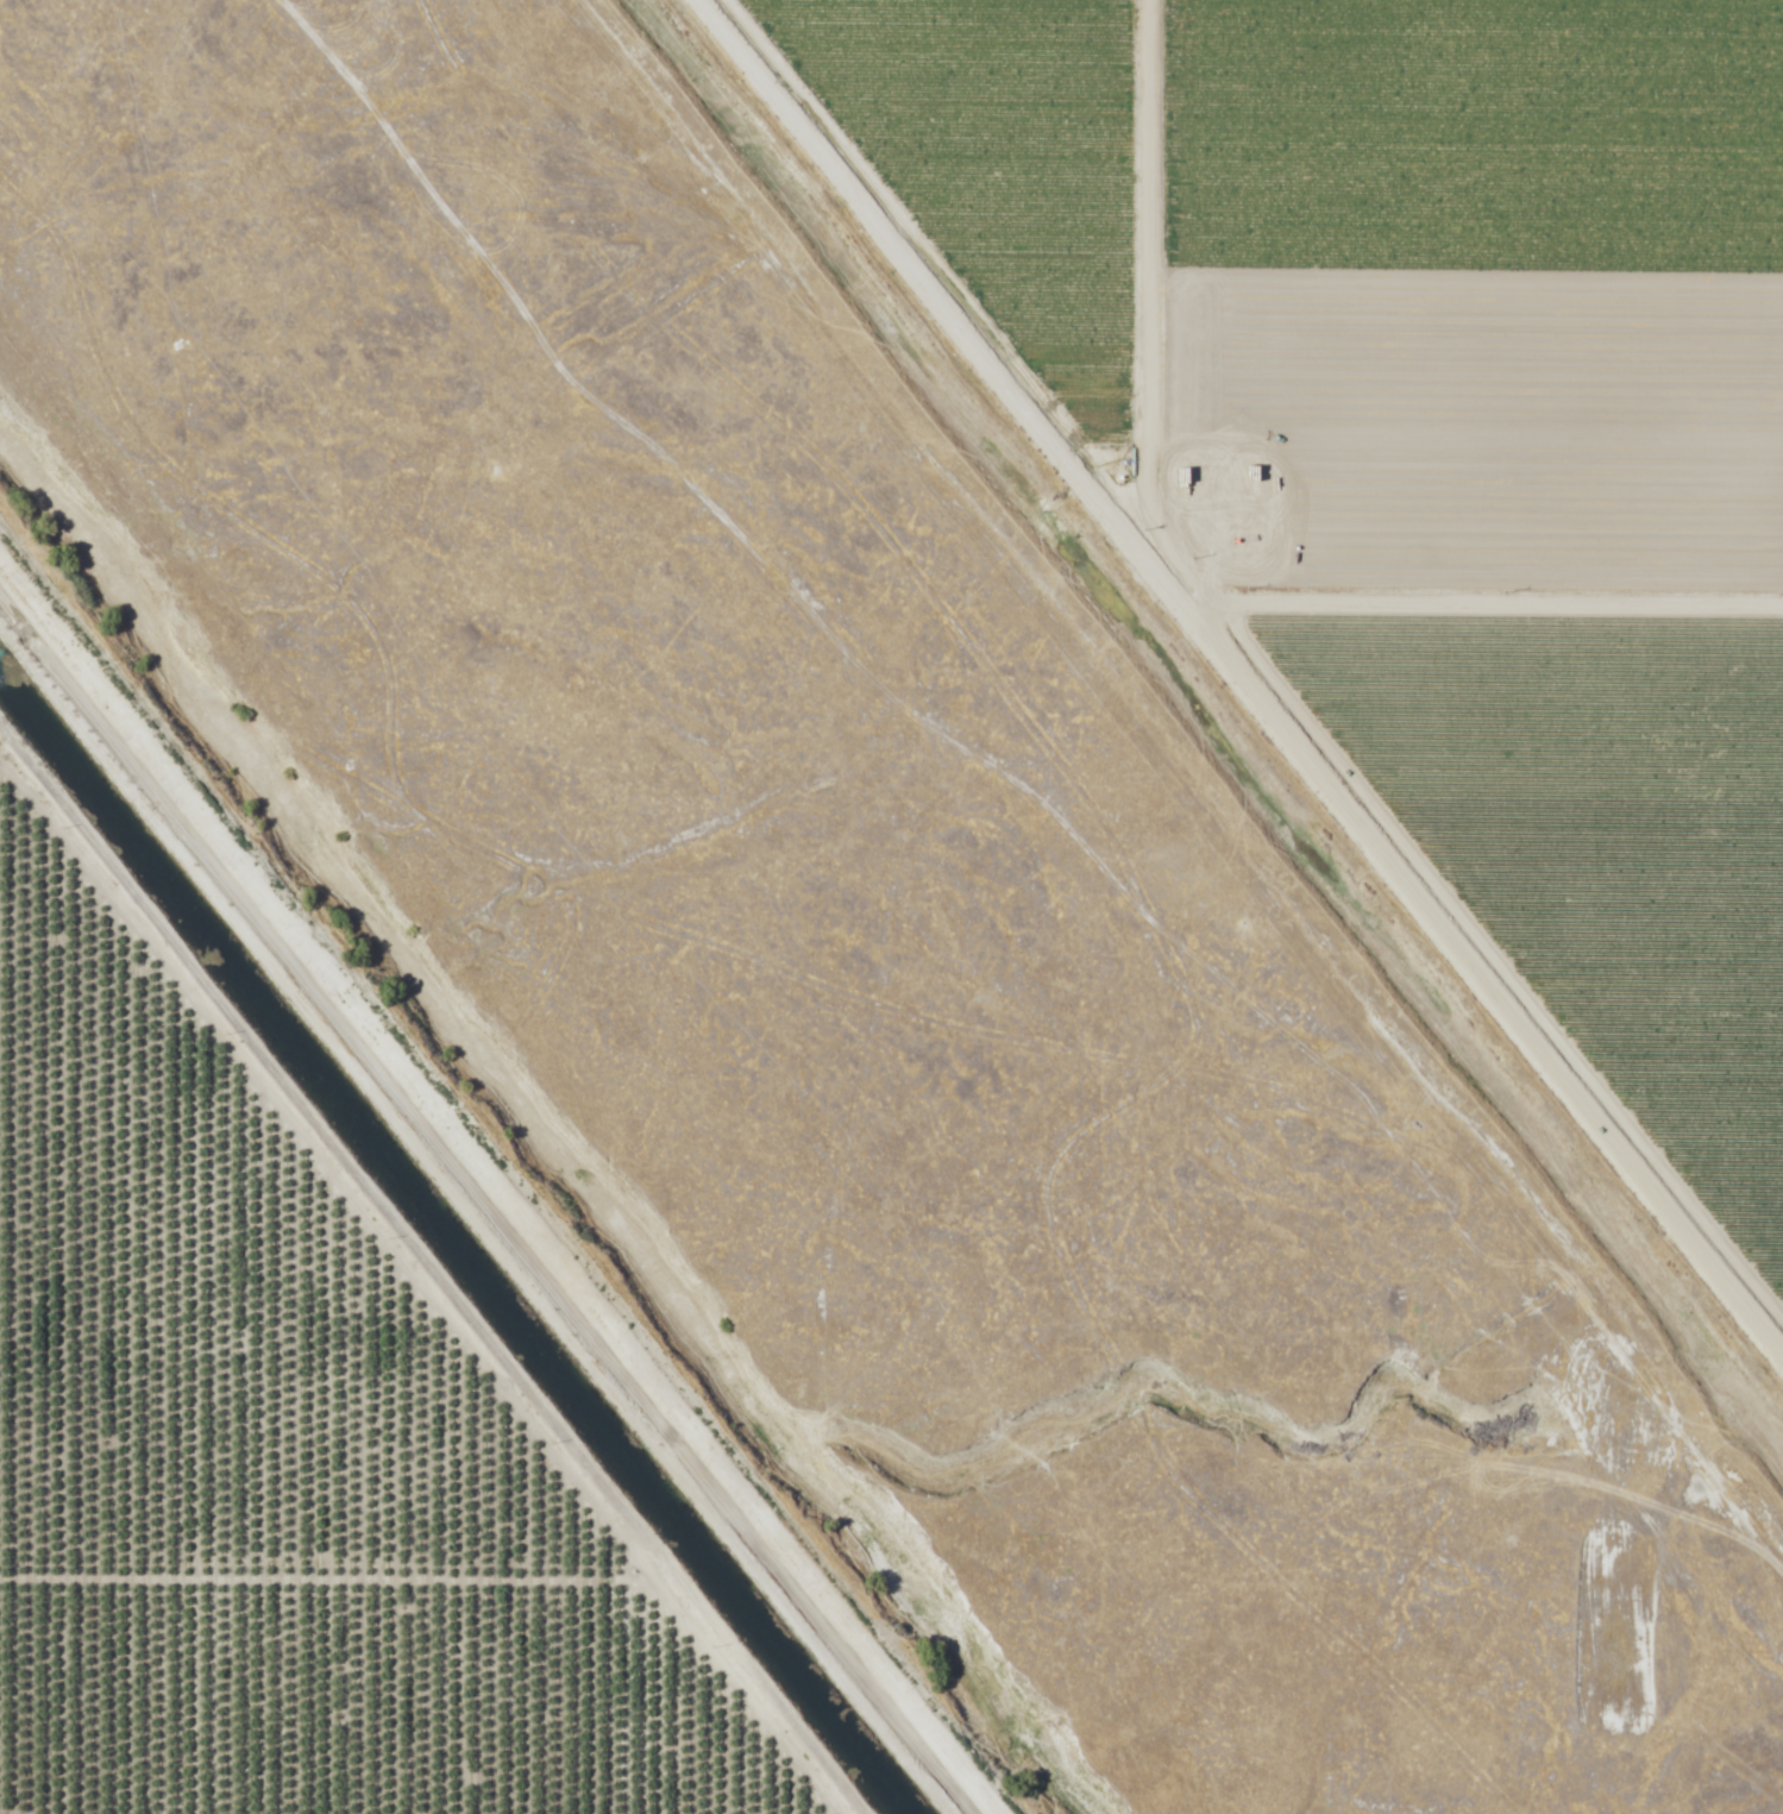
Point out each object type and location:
crop: (1379, 277)
road: (1239, 680)
crop: (1601, 847)
road: (313, 1181)
road: (484, 1201)
road: (469, 1581)

